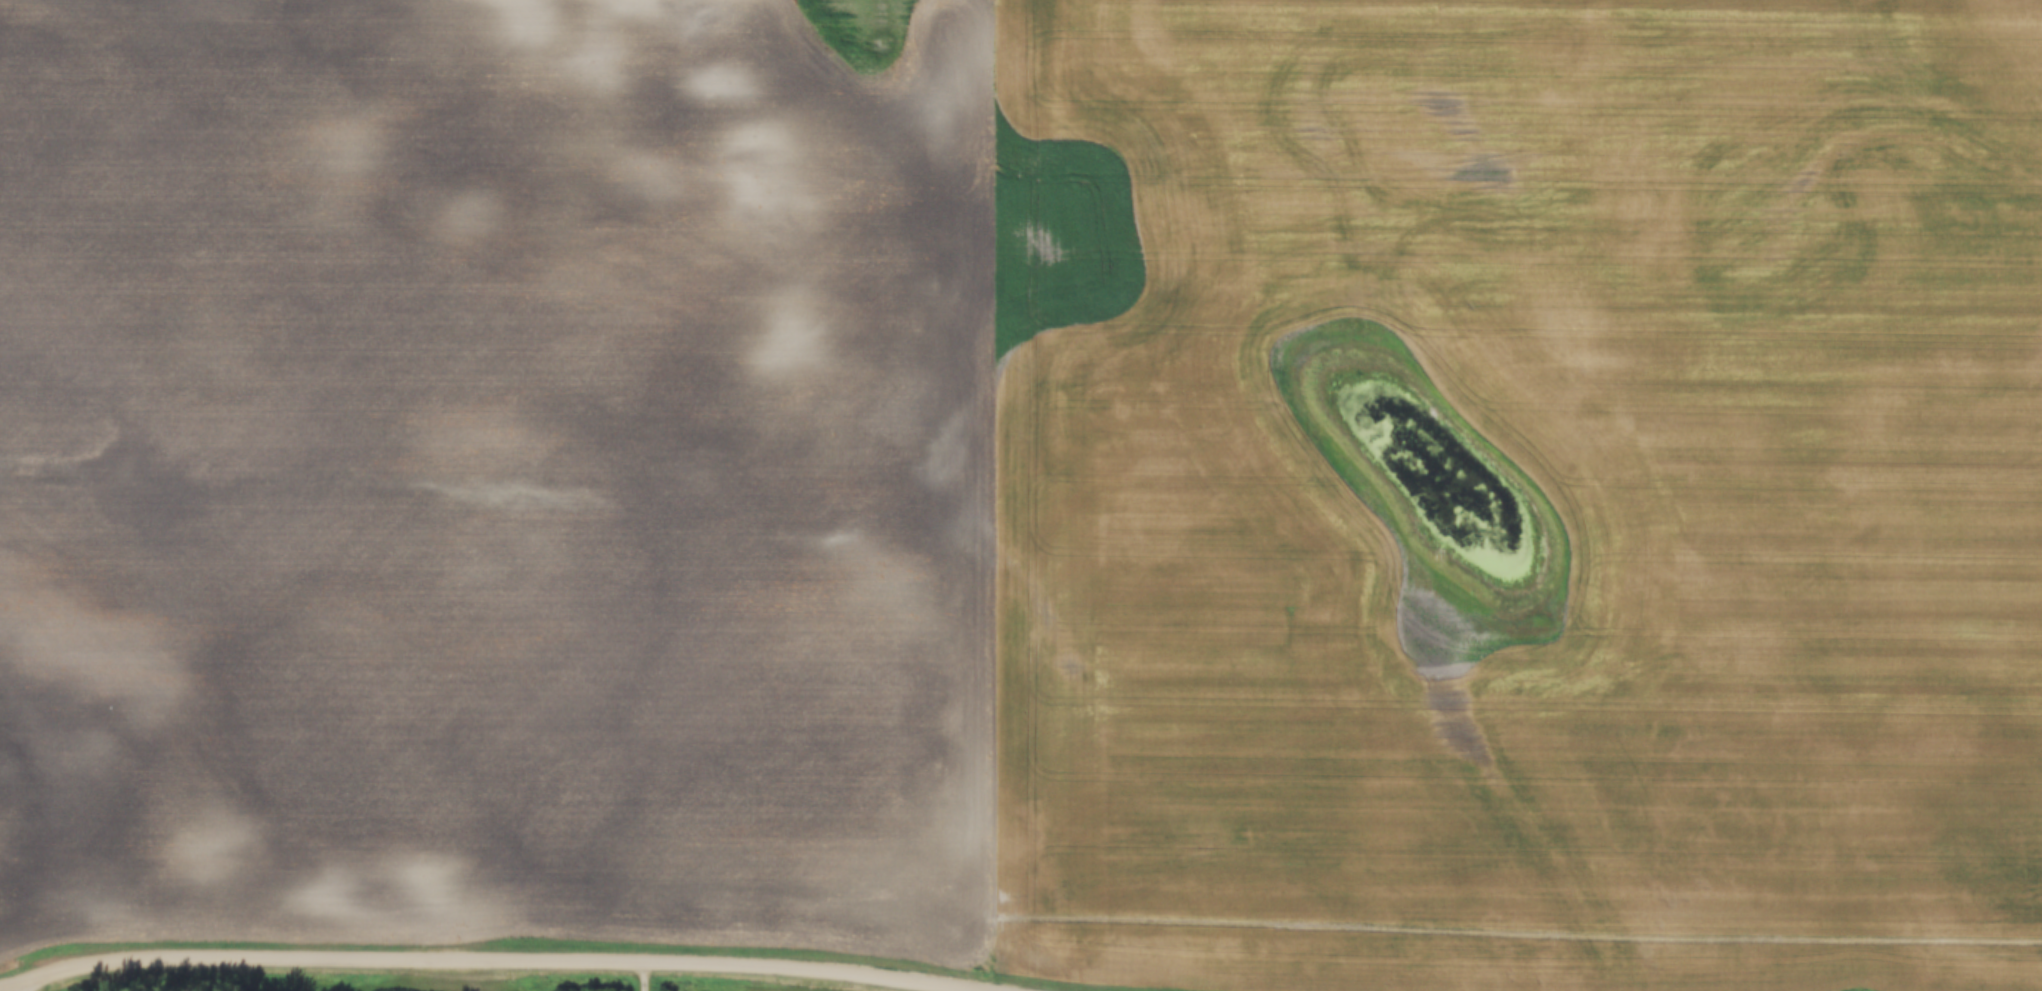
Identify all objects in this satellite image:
road: (493, 963)
road: (644, 977)

